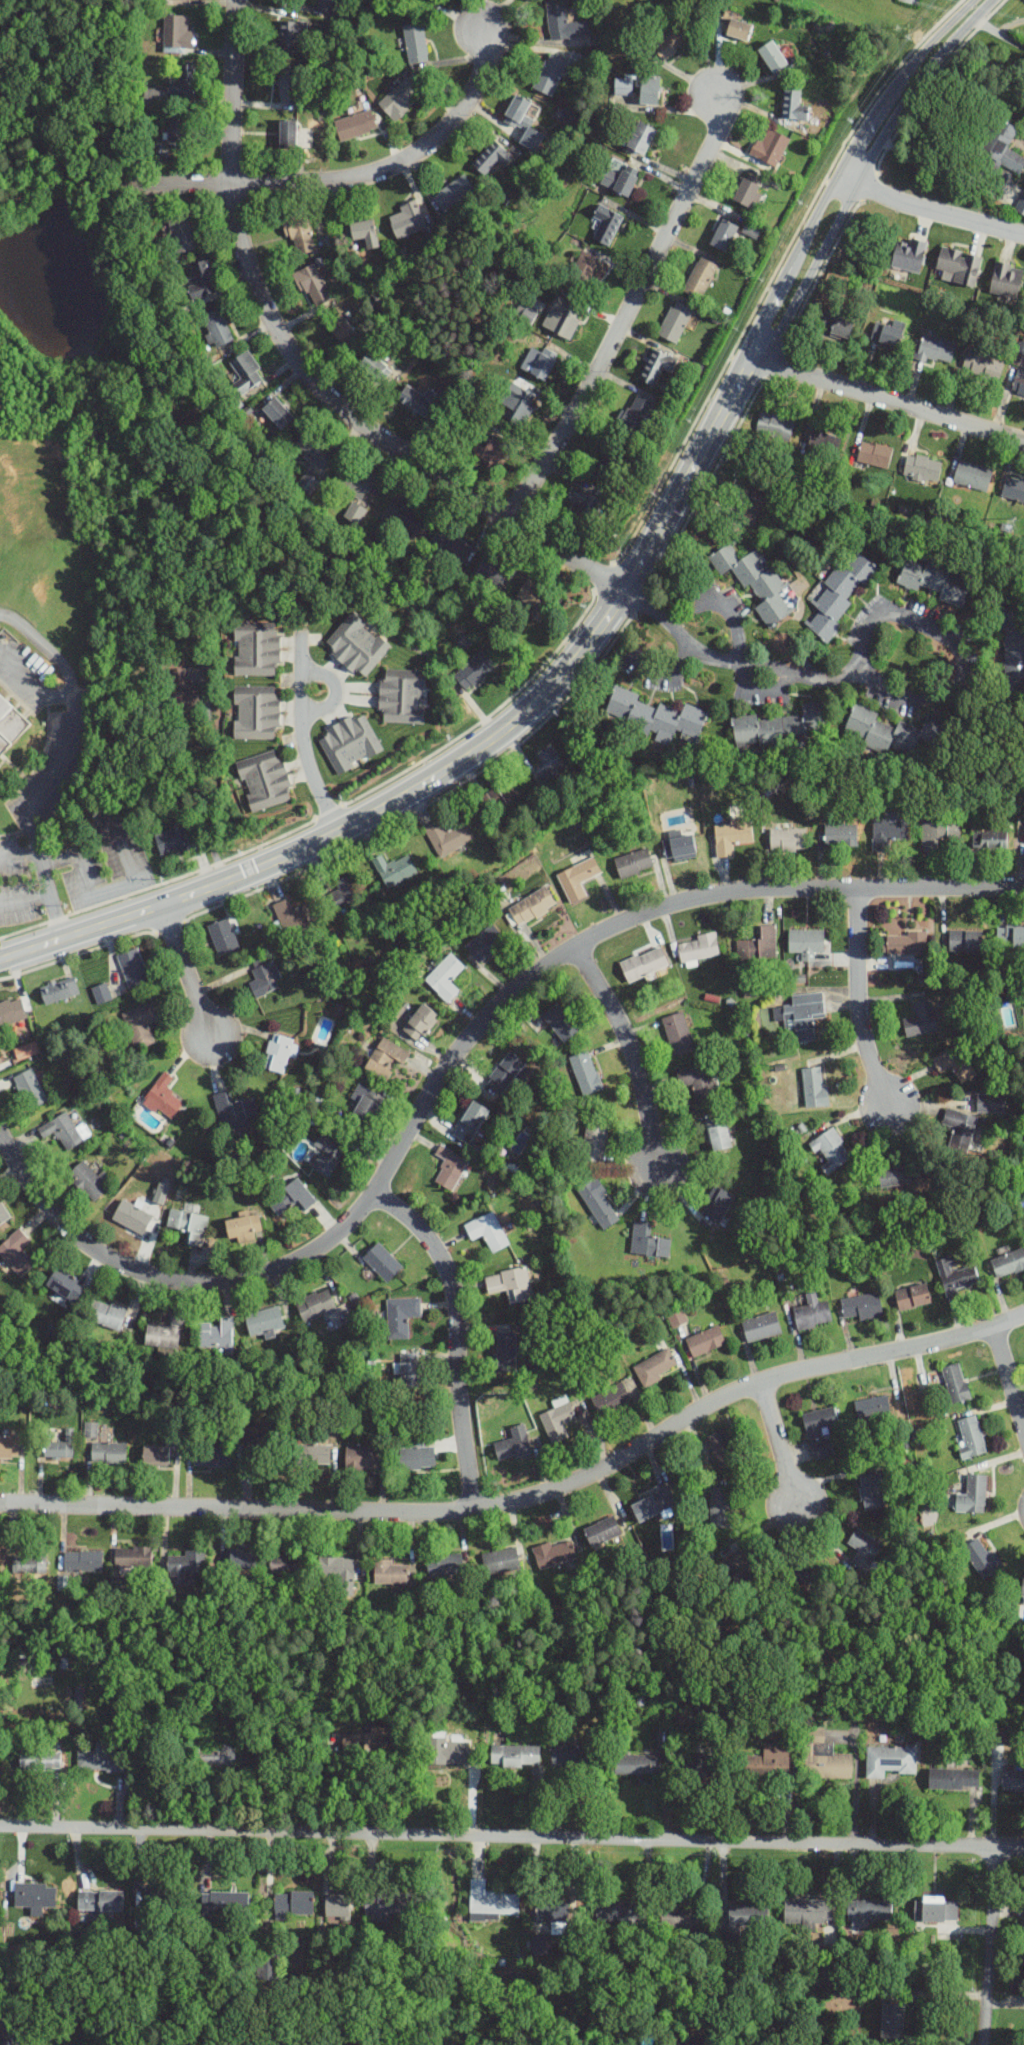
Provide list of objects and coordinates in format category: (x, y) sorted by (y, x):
building: (325, 5)
building: (410, 6)
building: (564, 23)
building: (738, 30)
road: (1000, 31)
building: (178, 32)
building: (291, 36)
road: (933, 39)
building: (672, 41)
building: (416, 43)
building: (773, 52)
building: (550, 74)
building: (184, 84)
building: (290, 85)
building: (623, 86)
building: (649, 90)
building: (150, 95)
building: (400, 98)
building: (793, 104)
building: (525, 118)
building: (355, 125)
road: (867, 127)
building: (176, 134)
building: (288, 135)
building: (640, 138)
building: (305, 139)
building: (769, 148)
building: (998, 150)
building: (493, 158)
road: (938, 167)
road: (862, 172)
road: (346, 178)
building: (618, 182)
building: (747, 190)
building: (455, 193)
building: (1020, 207)
road: (929, 212)
road: (813, 218)
building: (407, 220)
building: (607, 225)
building: (751, 229)
building: (299, 232)
building: (362, 232)
building: (180, 233)
building: (722, 237)
building: (909, 256)
building: (959, 266)
building: (581, 273)
building: (702, 276)
building: (202, 279)
building: (1005, 280)
building: (313, 286)
road: (625, 308)
road: (765, 310)
building: (524, 314)
building: (562, 318)
building: (675, 322)
building: (837, 326)
building: (218, 327)
building: (888, 330)
building: (340, 331)
building: (936, 350)
building: (538, 365)
building: (657, 367)
building: (981, 367)
building: (374, 369)
building: (246, 372)
road: (301, 373)
building: (1019, 384)
road: (888, 399)
building: (418, 400)
building: (518, 404)
building: (277, 414)
building: (635, 417)
building: (774, 426)
building: (822, 444)
building: (314, 450)
building: (494, 451)
building: (874, 455)
building: (608, 461)
building: (922, 468)
building: (972, 476)
building: (355, 480)
building: (309, 483)
building: (1013, 490)
building: (751, 507)
building: (582, 508)
building: (406, 518)
building: (450, 544)
building: (492, 571)
building: (938, 580)
building: (758, 583)
building: (840, 594)
building: (536, 599)
building: (358, 642)
building: (1013, 643)
building: (256, 649)
road: (861, 657)
building: (474, 671)
road: (30, 685)
building: (182, 692)
building: (402, 697)
building: (256, 712)
building: (654, 716)
building: (9, 727)
building: (777, 727)
building: (891, 732)
road: (304, 736)
building: (350, 741)
road: (66, 748)
road: (460, 759)
building: (549, 764)
building: (265, 781)
road: (198, 792)
building: (502, 794)
building: (888, 831)
building: (937, 833)
building: (731, 834)
building: (841, 835)
building: (448, 836)
building: (989, 839)
building: (788, 840)
building: (172, 841)
building: (679, 847)
road: (18, 850)
building: (634, 863)
building: (395, 870)
building: (578, 878)
road: (105, 891)
building: (346, 891)
road: (46, 896)
building: (531, 906)
building: (297, 915)
building: (222, 937)
building: (1010, 937)
building: (965, 940)
building: (485, 943)
building: (805, 943)
building: (904, 943)
building: (759, 945)
building: (699, 947)
building: (644, 964)
building: (133, 968)
road: (187, 969)
building: (445, 977)
building: (266, 979)
building: (59, 991)
building: (101, 994)
road: (857, 1001)
building: (12, 1012)
building: (803, 1015)
building: (1006, 1017)
building: (921, 1019)
building: (560, 1022)
building: (420, 1023)
building: (141, 1025)
building: (678, 1034)
building: (24, 1050)
road: (629, 1050)
building: (277, 1053)
building: (385, 1058)
road: (453, 1058)
building: (955, 1063)
building: (505, 1073)
building: (586, 1073)
building: (697, 1082)
building: (814, 1087)
building: (29, 1089)
building: (163, 1098)
building: (991, 1103)
building: (366, 1104)
building: (234, 1109)
building: (471, 1122)
building: (959, 1128)
building: (62, 1131)
building: (717, 1134)
building: (595, 1139)
building: (830, 1150)
building: (327, 1155)
building: (450, 1168)
building: (893, 1175)
building: (87, 1181)
building: (293, 1200)
building: (599, 1204)
building: (717, 1205)
building: (3, 1214)
building: (132, 1217)
building: (189, 1225)
building: (243, 1227)
building: (488, 1232)
building: (648, 1242)
building: (16, 1253)
road: (441, 1260)
building: (382, 1262)
building: (1008, 1264)
building: (957, 1276)
building: (64, 1284)
building: (510, 1285)
building: (912, 1297)
building: (316, 1305)
building: (861, 1307)
building: (812, 1312)
building: (106, 1314)
building: (401, 1316)
building: (675, 1317)
building: (264, 1321)
building: (761, 1327)
building: (165, 1334)
building: (216, 1334)
building: (705, 1341)
building: (505, 1352)
building: (655, 1367)
building: (410, 1370)
road: (1008, 1375)
building: (956, 1383)
building: (611, 1398)
building: (872, 1407)
building: (558, 1421)
building: (819, 1421)
building: (89, 1429)
road: (463, 1431)
building: (971, 1437)
building: (258, 1443)
road: (780, 1443)
building: (513, 1444)
building: (60, 1446)
building: (9, 1447)
building: (723, 1448)
building: (822, 1450)
building: (108, 1453)
building: (312, 1454)
building: (155, 1455)
building: (212, 1456)
building: (416, 1457)
building: (362, 1458)
building: (872, 1492)
road: (529, 1495)
building: (972, 1495)
building: (652, 1504)
building: (721, 1508)
building: (602, 1532)
building: (864, 1549)
building: (555, 1554)
building: (133, 1557)
building: (982, 1559)
building: (242, 1561)
building: (501, 1561)
building: (29, 1562)
building: (83, 1562)
building: (746, 1564)
building: (288, 1565)
building: (186, 1566)
building: (445, 1566)
building: (338, 1571)
building: (389, 1572)
building: (806, 1576)
building: (1022, 1587)
building: (365, 1739)
building: (446, 1749)
building: (565, 1754)
building: (215, 1755)
building: (513, 1755)
building: (822, 1756)
building: (100, 1758)
building: (38, 1759)
building: (888, 1759)
building: (636, 1764)
building: (952, 1778)
building: (1011, 1781)
road: (328, 1785)
road: (512, 1837)
building: (33, 1895)
building: (490, 1899)
building: (98, 1900)
building: (222, 1901)
building: (1023, 1903)
building: (291, 1904)
building: (335, 1907)
building: (382, 1907)
building: (933, 1908)
building: (867, 1909)
building: (550, 1910)
building: (614, 1910)
building: (807, 1911)
building: (744, 1914)
building: (678, 1917)
building: (857, 1925)
road: (988, 1947)
building: (891, 2019)
building: (5, 2041)
building: (682, 2043)

